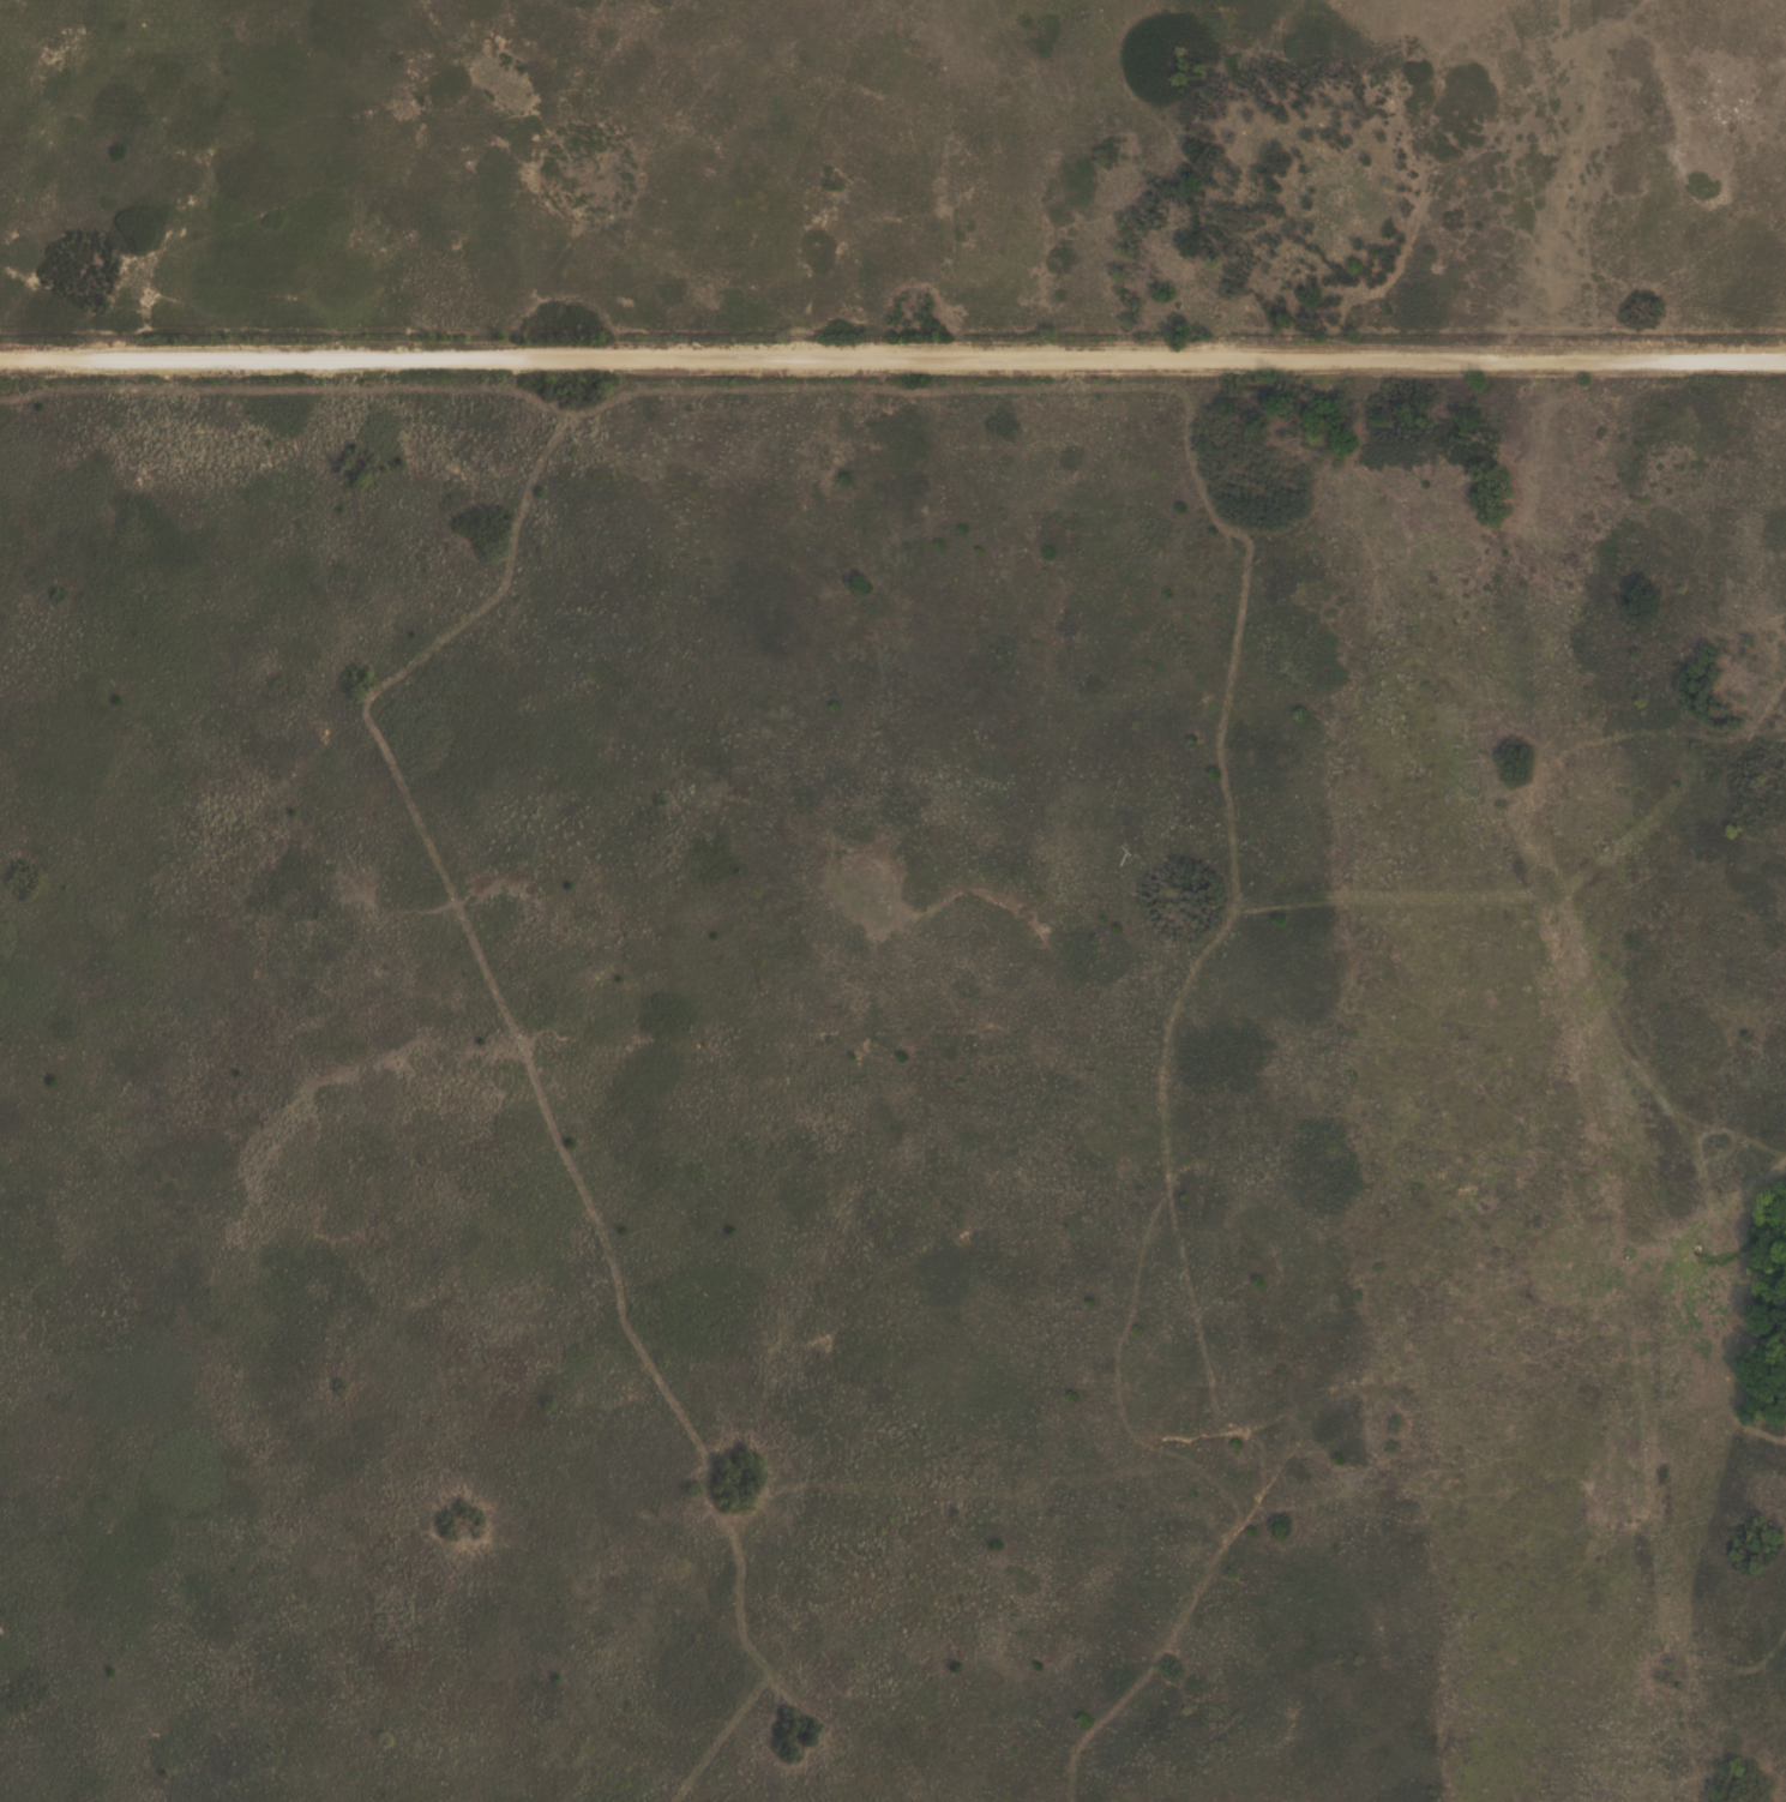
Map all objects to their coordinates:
road: (892, 358)
road: (1718, 1299)

